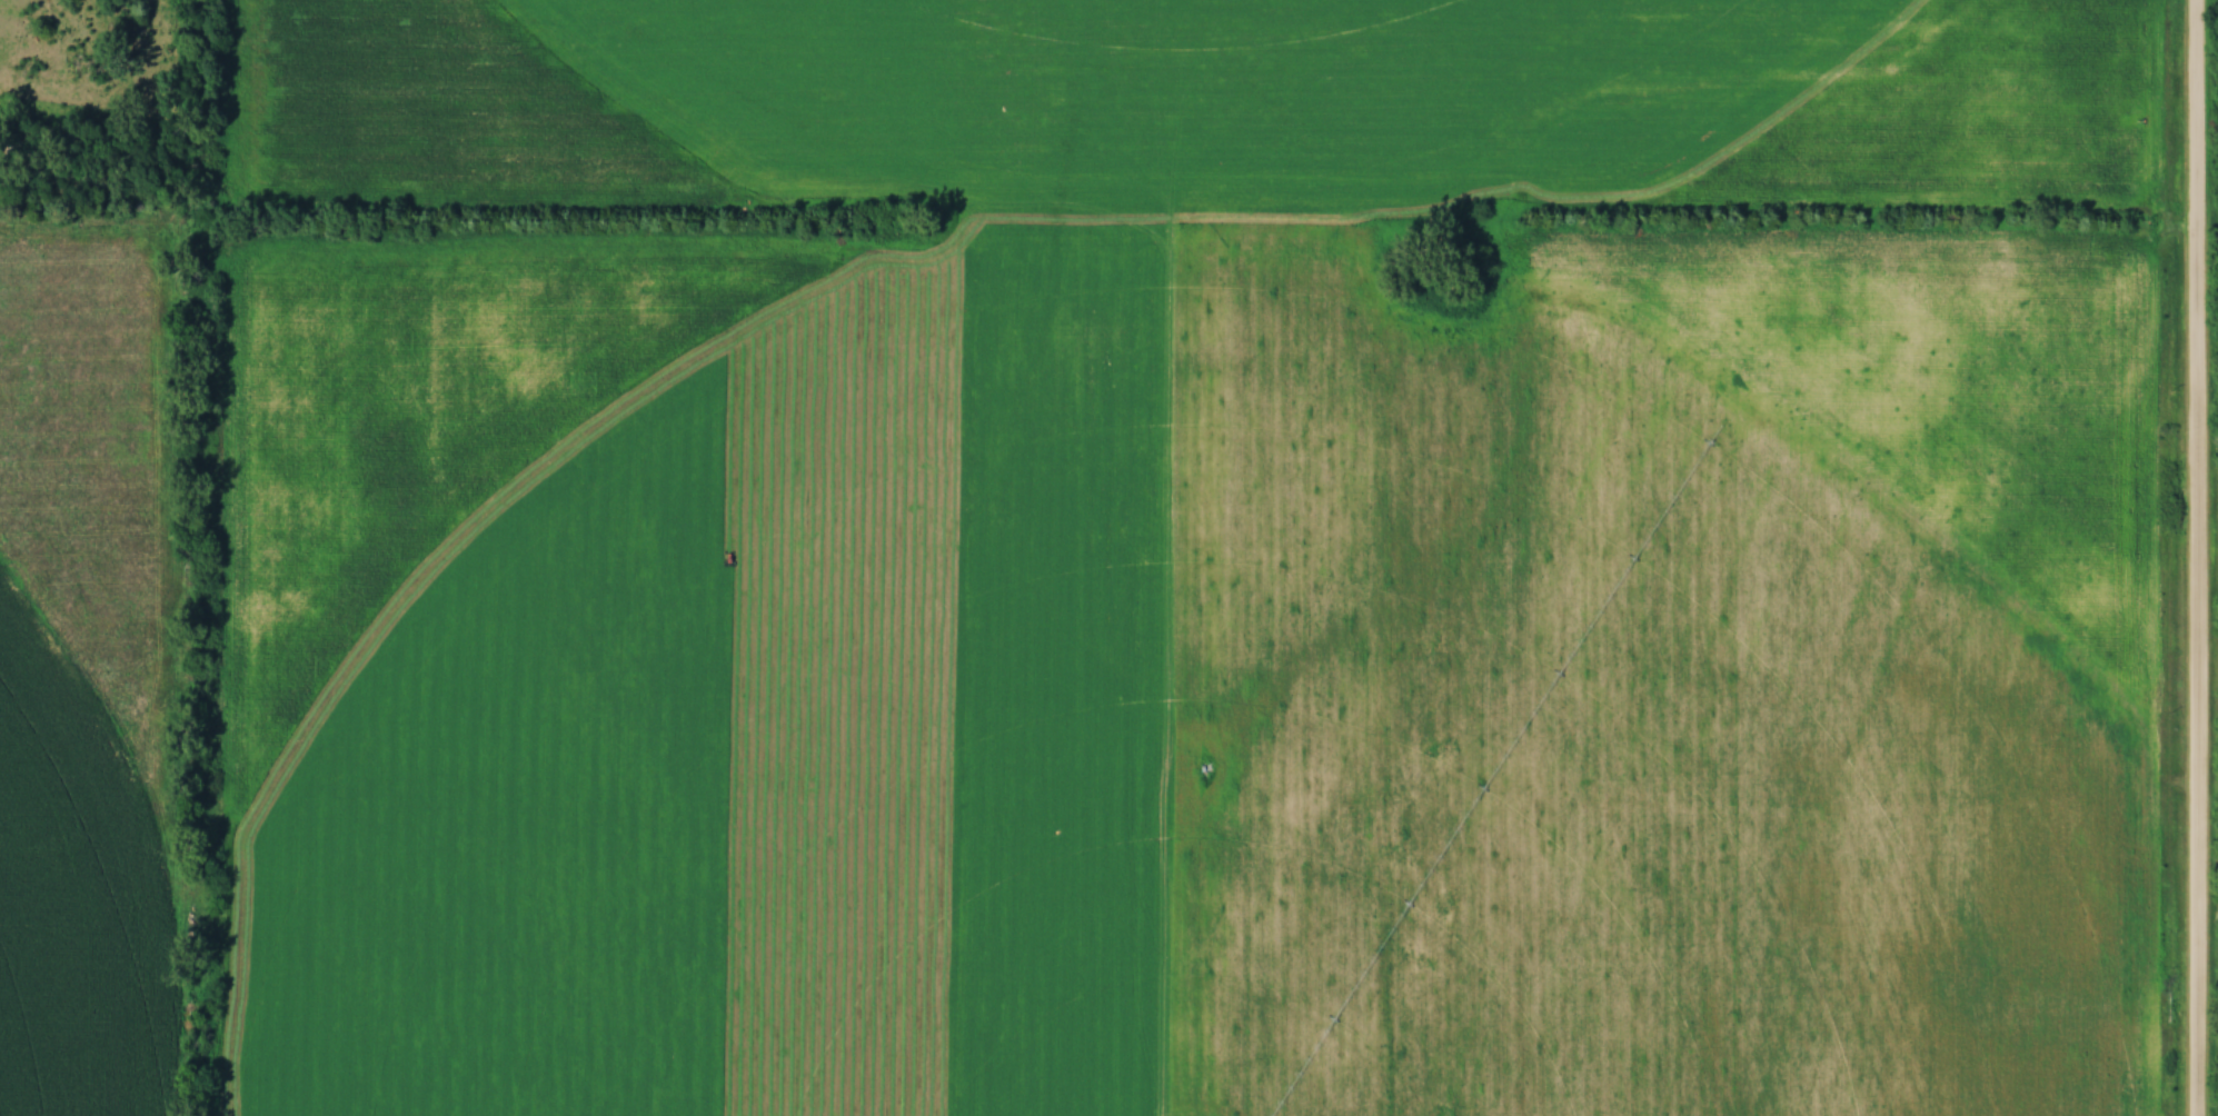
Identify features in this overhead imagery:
road: (2198, 557)

